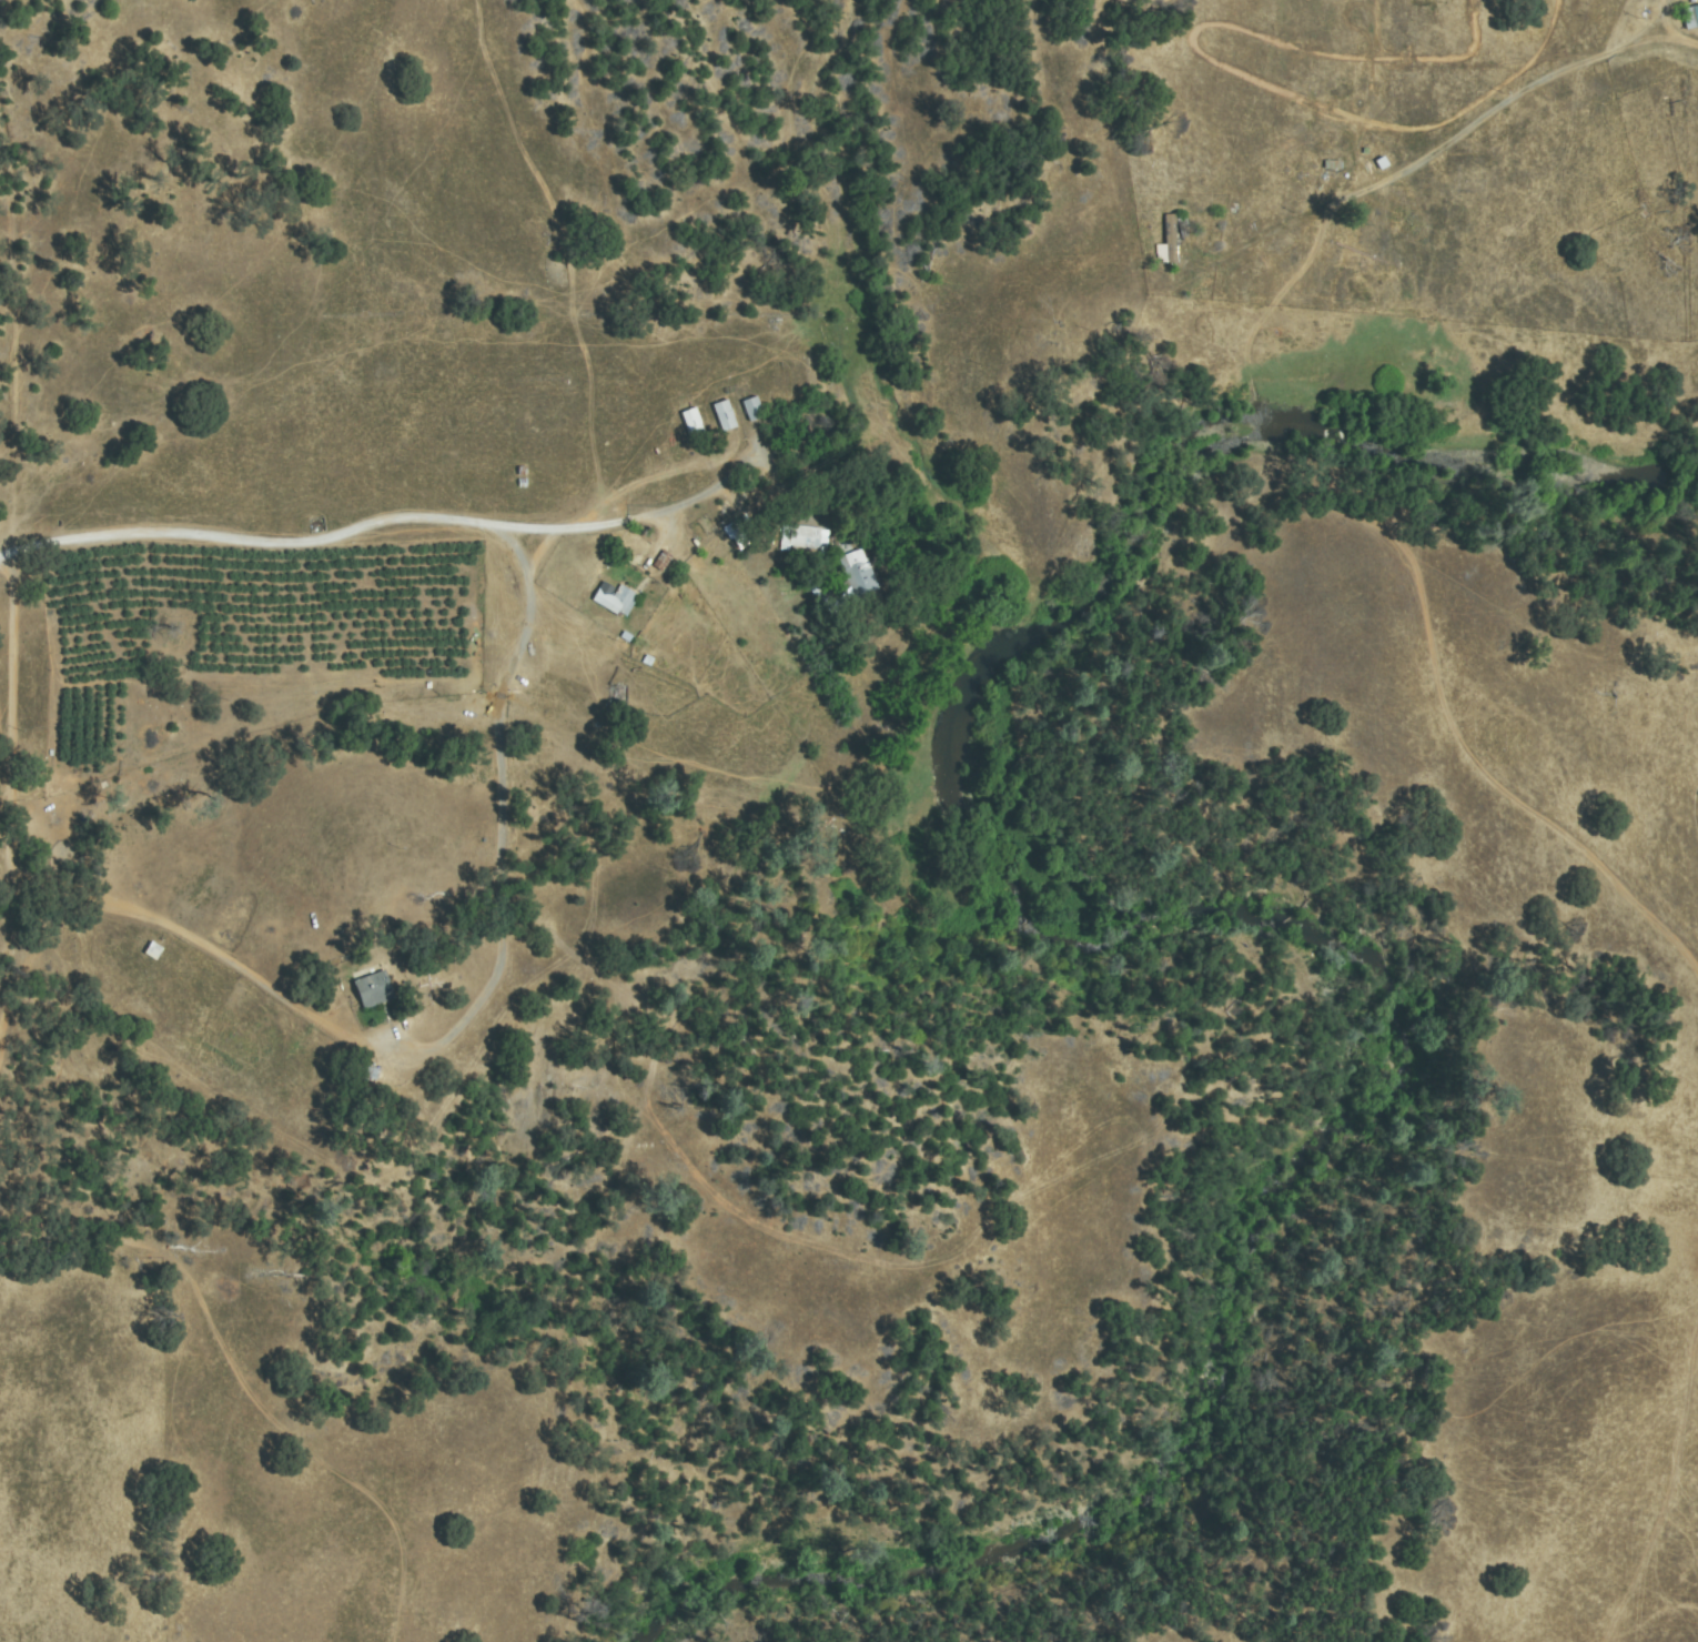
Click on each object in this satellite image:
building: (1690, 18)
building: (1334, 165)
building: (1172, 239)
building: (752, 410)
building: (724, 416)
building: (694, 425)
road: (361, 516)
building: (736, 534)
building: (806, 542)
building: (661, 561)
building: (860, 578)
building: (614, 601)
building: (617, 699)
building: (161, 953)
building: (373, 989)

